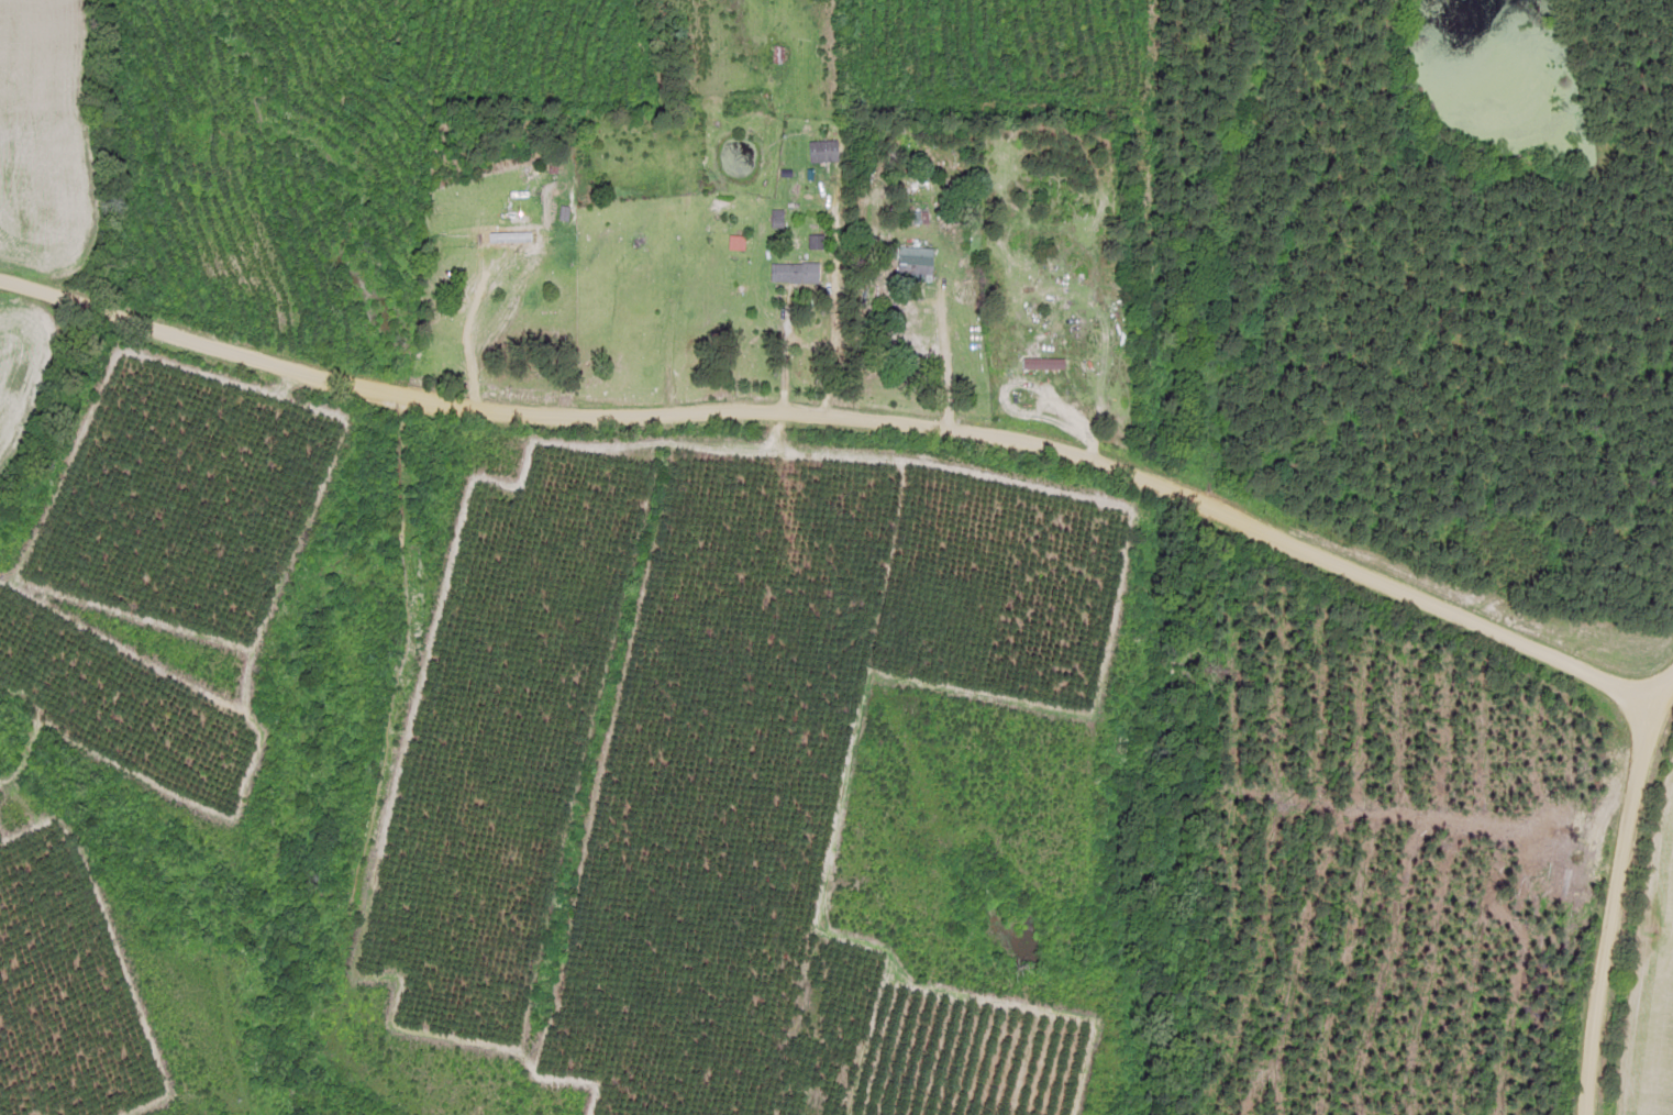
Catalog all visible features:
building: (775, 55)
building: (818, 152)
building: (950, 239)
building: (909, 268)
building: (780, 273)
building: (1039, 365)
road: (852, 415)
road: (1610, 892)

